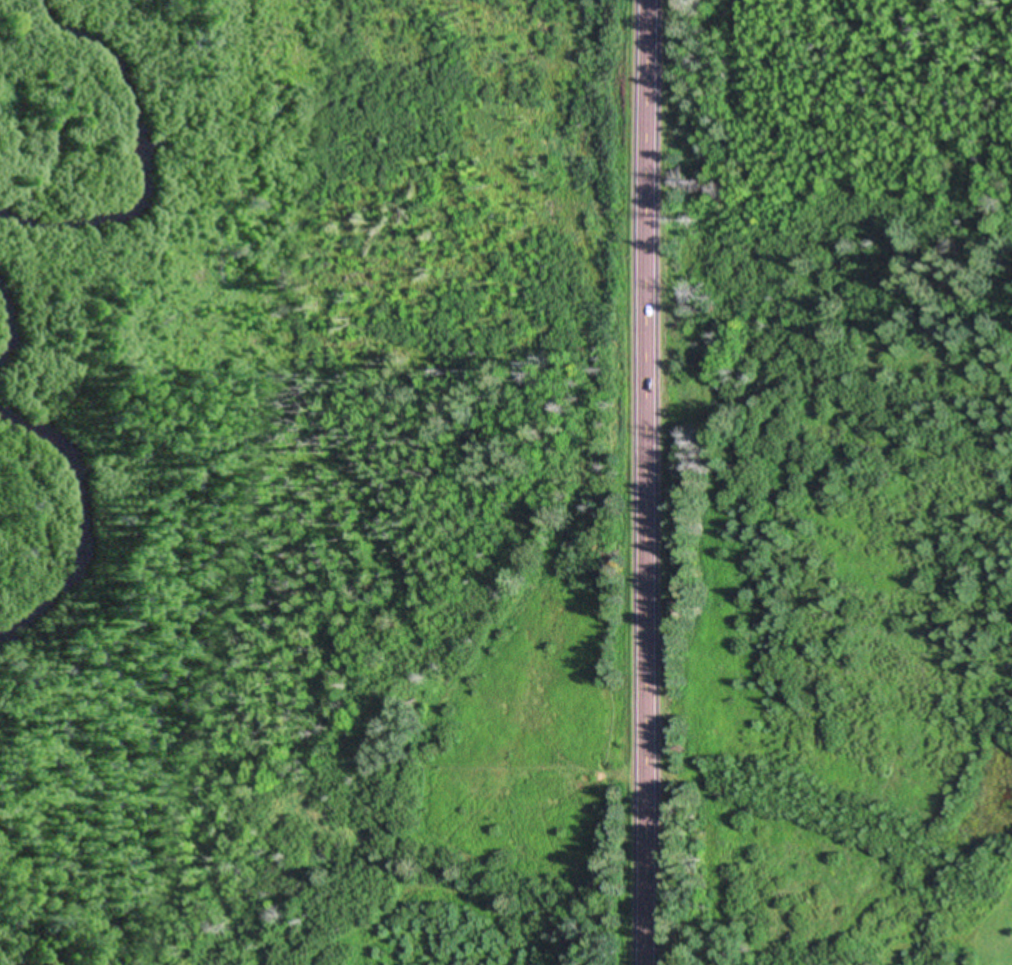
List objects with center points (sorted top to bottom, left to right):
road: (655, 482)

